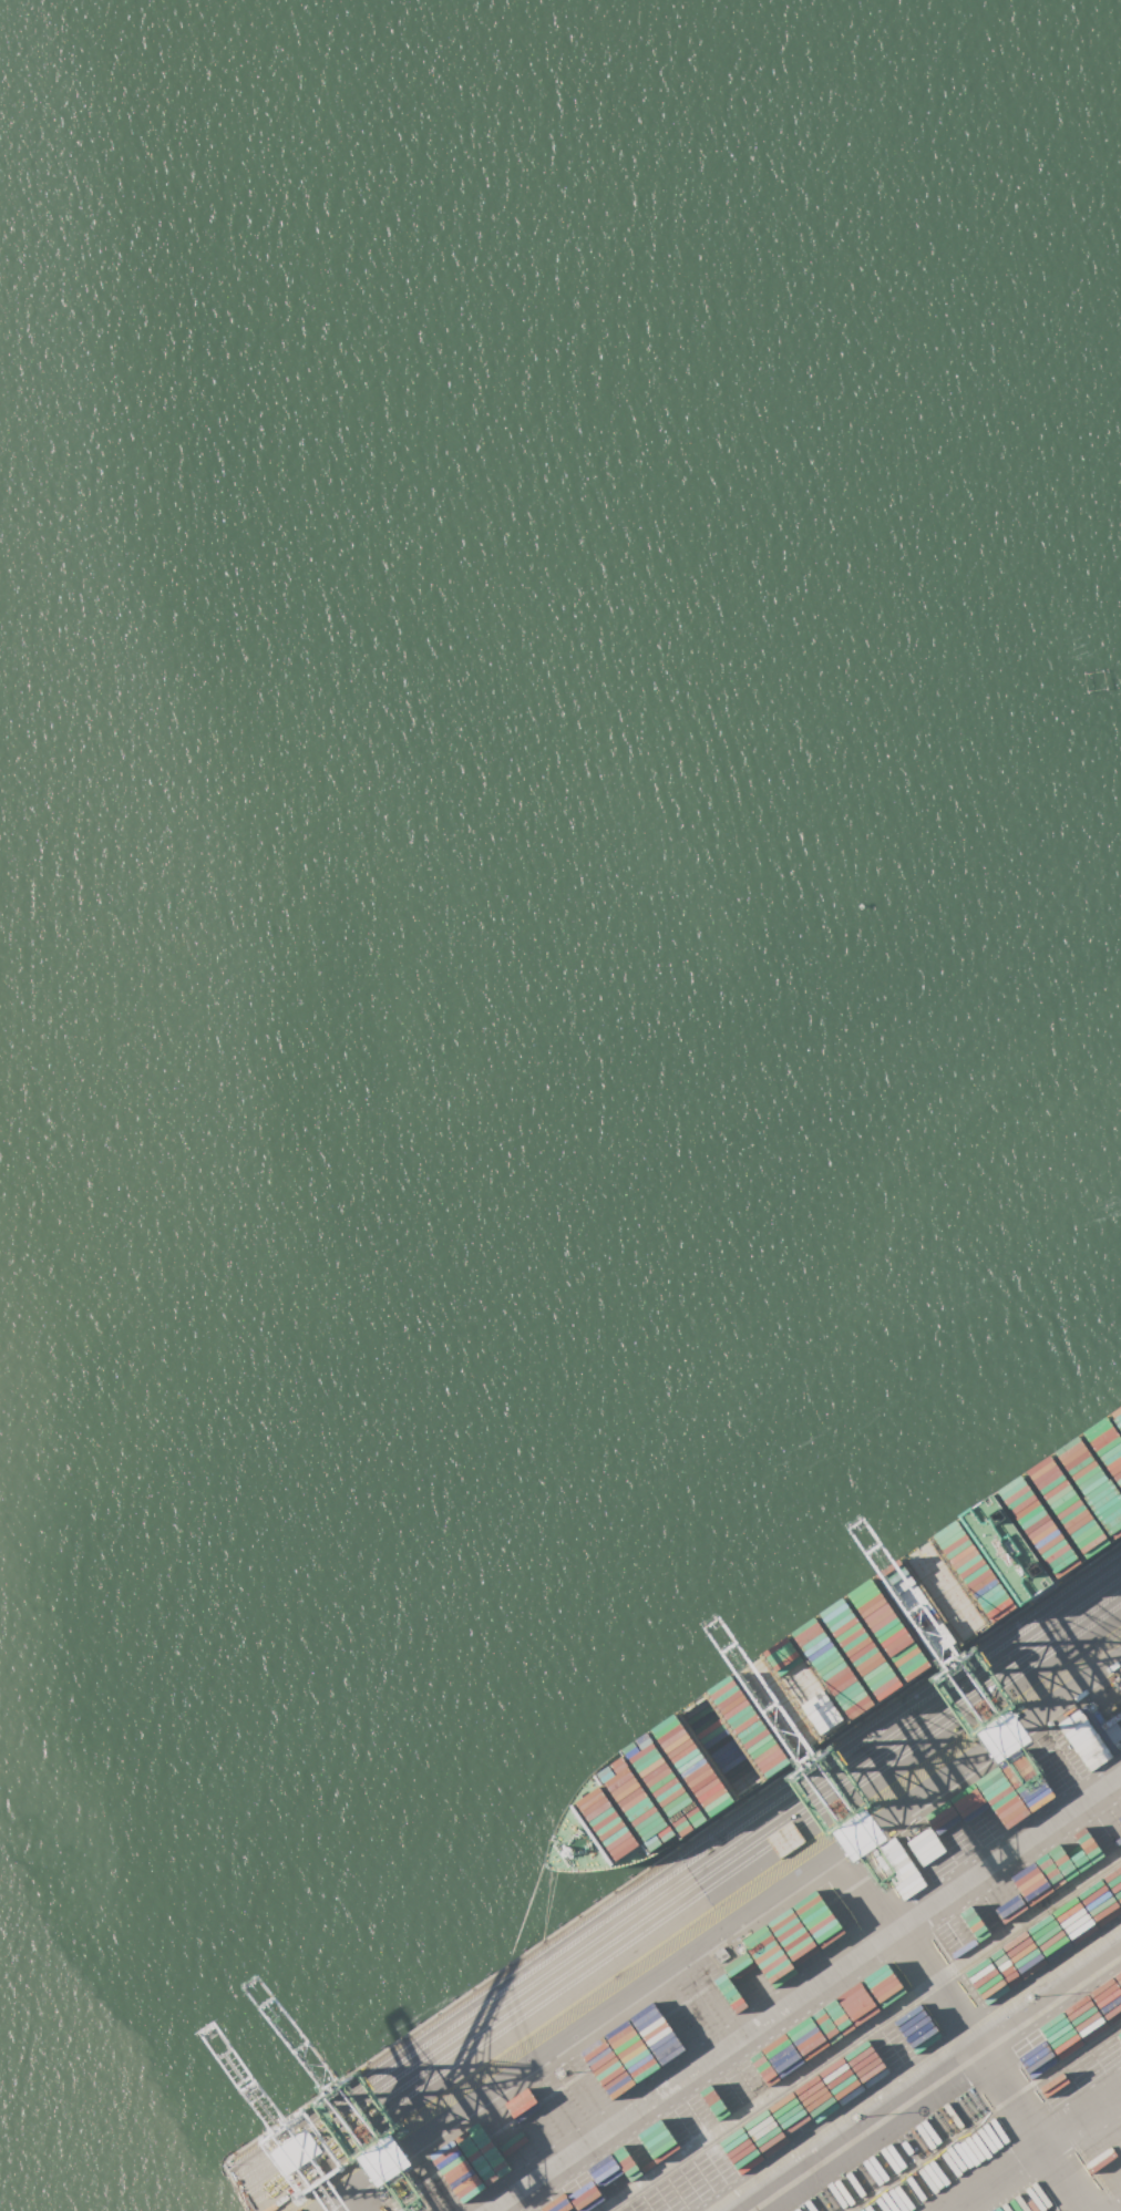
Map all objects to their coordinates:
road: (730, 1916)
road: (804, 1993)
road: (958, 2028)
road: (928, 2078)
road: (991, 2177)
building: (428, 2182)
road: (350, 2199)
building: (410, 2207)

